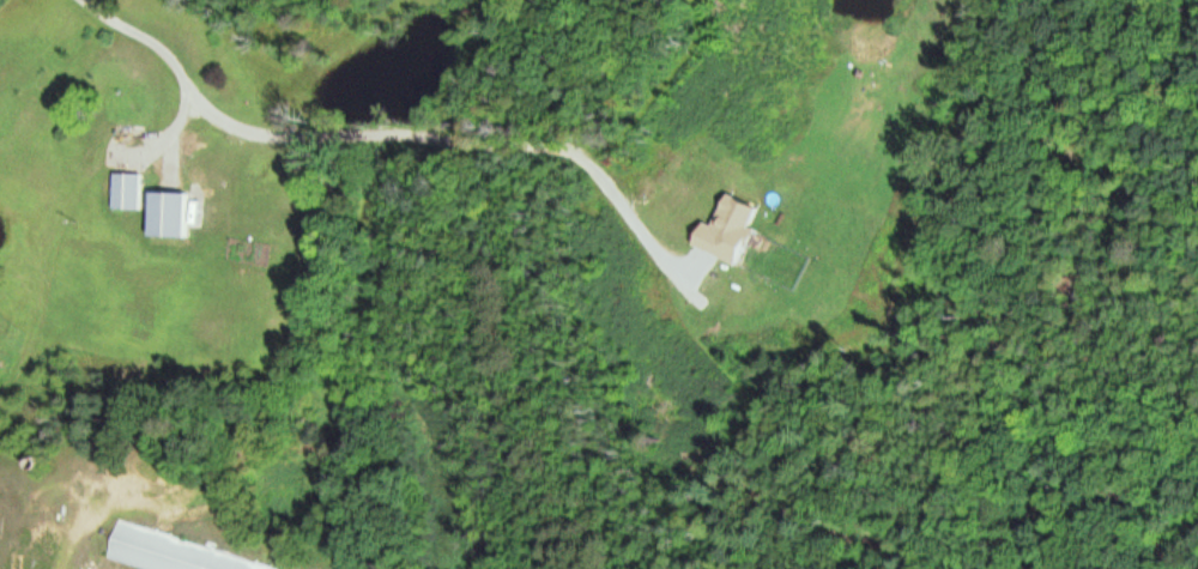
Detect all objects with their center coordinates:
road: (168, 56)
building: (128, 99)
building: (127, 190)
building: (170, 214)
building: (175, 553)

